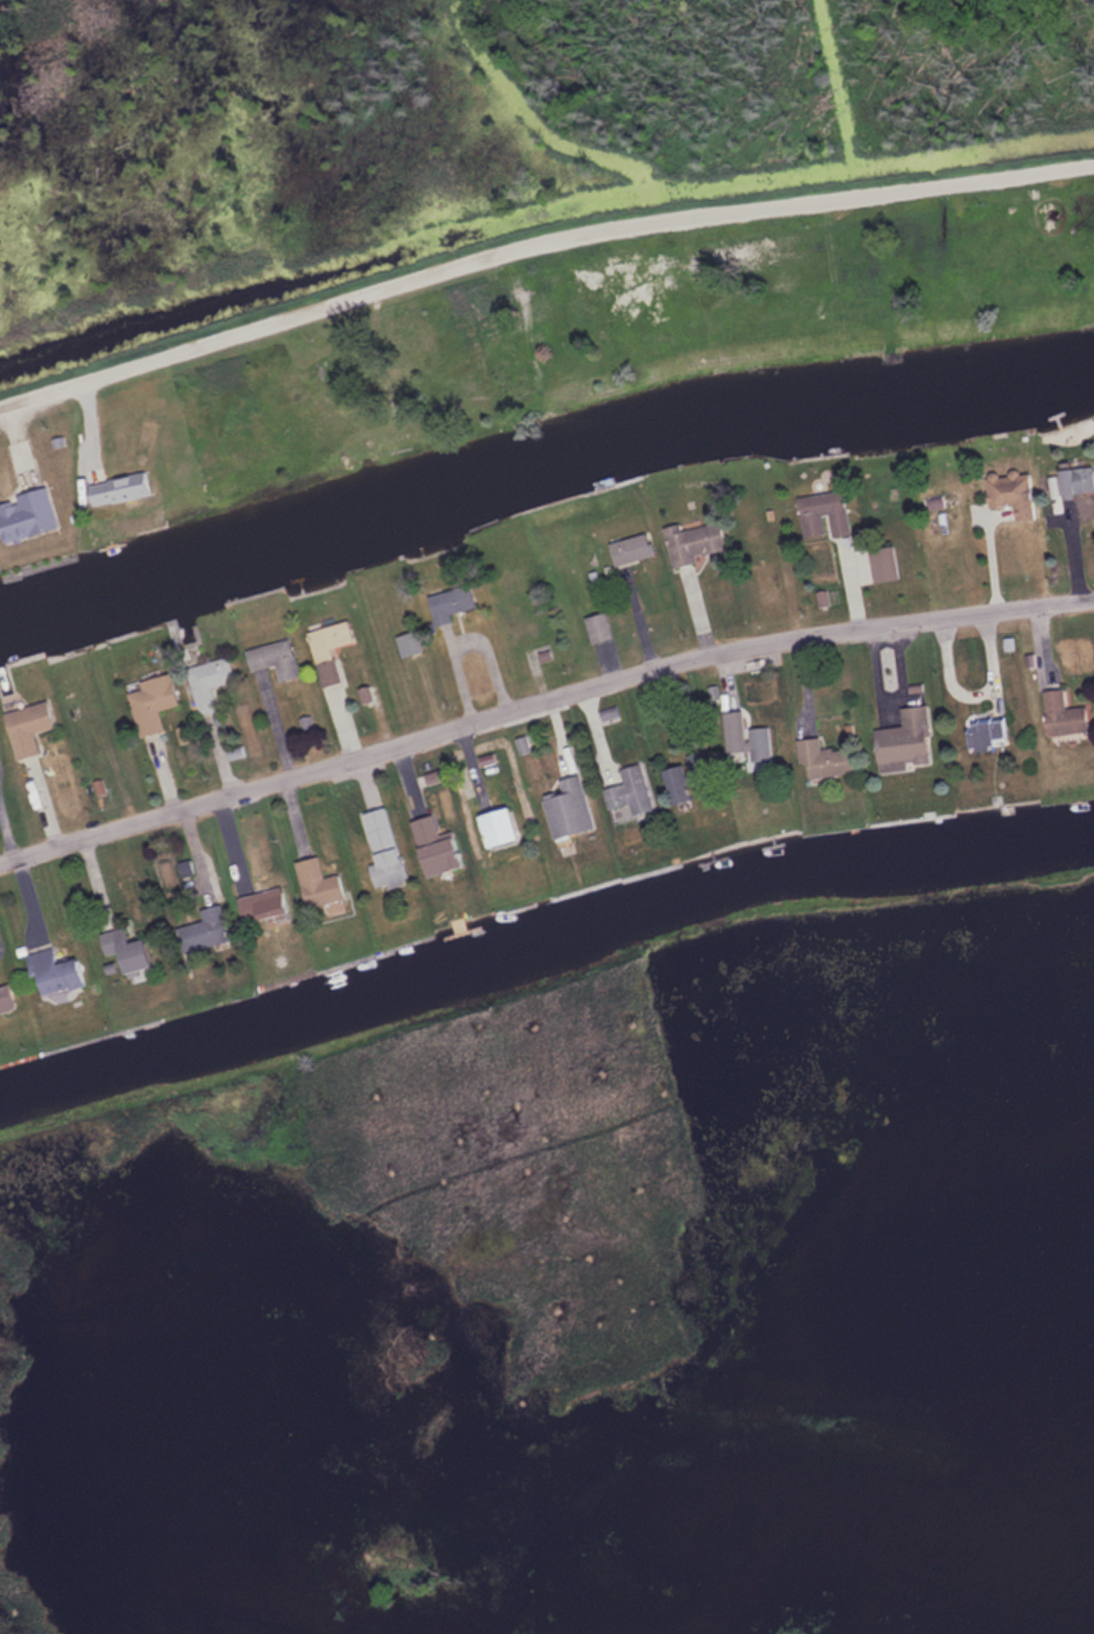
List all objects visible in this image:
road: (537, 240)
building: (1075, 477)
building: (121, 486)
building: (1017, 490)
building: (825, 512)
building: (27, 513)
building: (696, 538)
building: (633, 546)
building: (878, 563)
building: (454, 598)
building: (599, 625)
building: (330, 646)
building: (275, 657)
building: (209, 680)
building: (153, 702)
road: (540, 702)
building: (1067, 713)
building: (31, 725)
building: (992, 731)
building: (907, 735)
building: (751, 740)
building: (824, 758)
building: (682, 774)
building: (629, 787)
building: (566, 805)
building: (493, 825)
building: (432, 843)
building: (382, 846)
building: (315, 881)
building: (259, 903)
building: (202, 929)
building: (123, 950)
building: (49, 970)
building: (4, 996)

